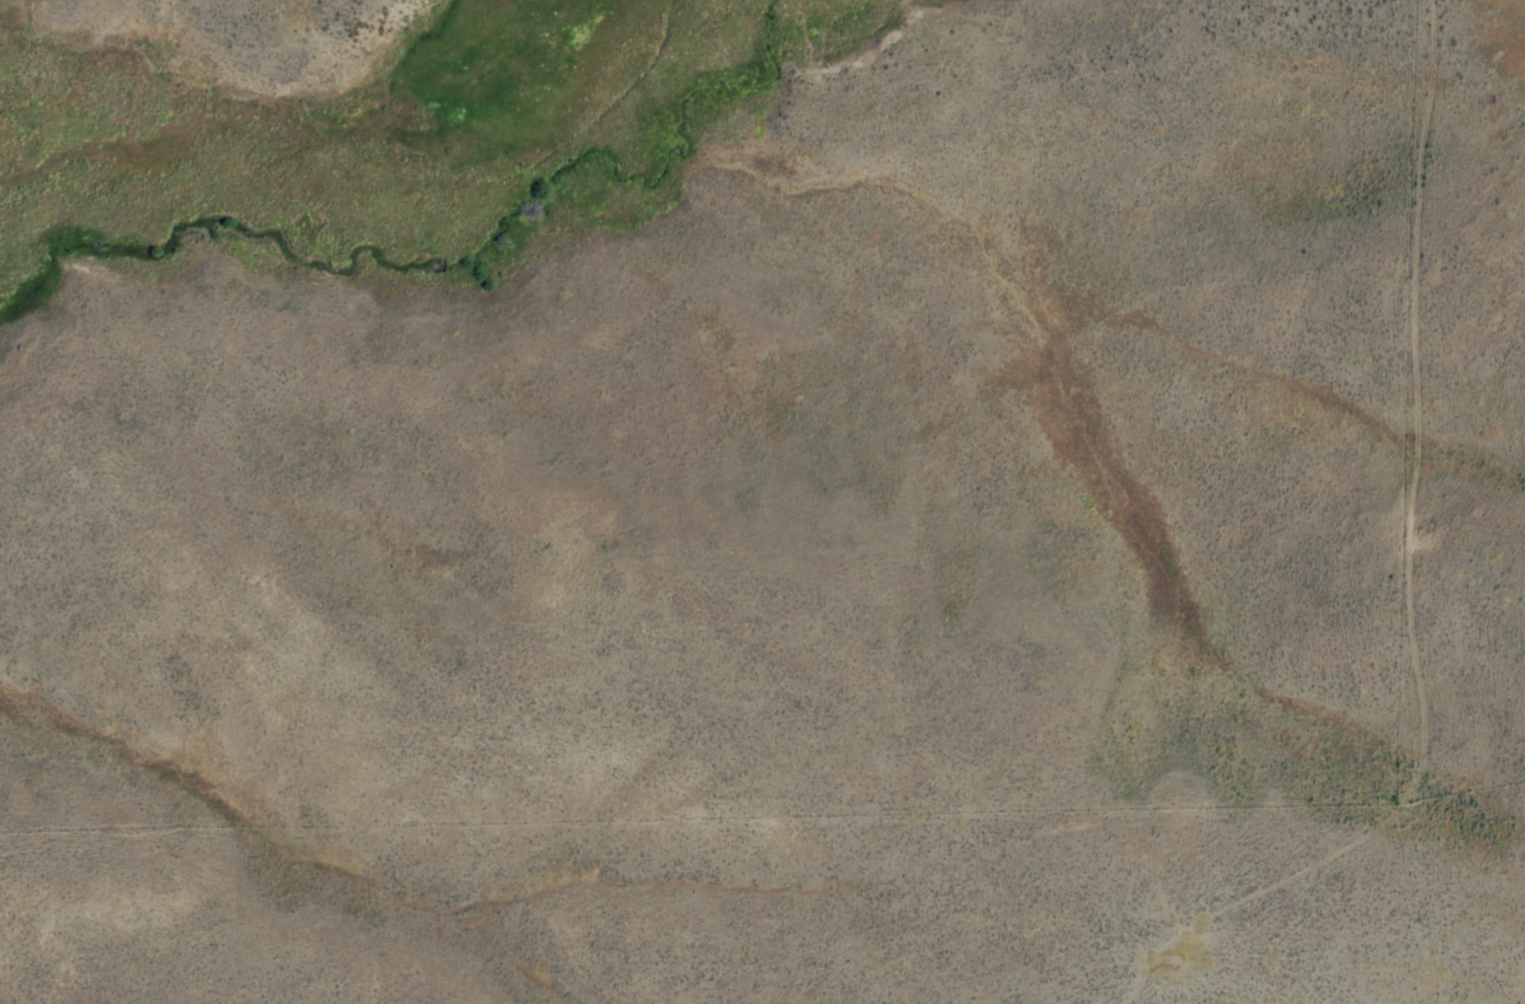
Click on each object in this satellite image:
road: (1411, 568)

